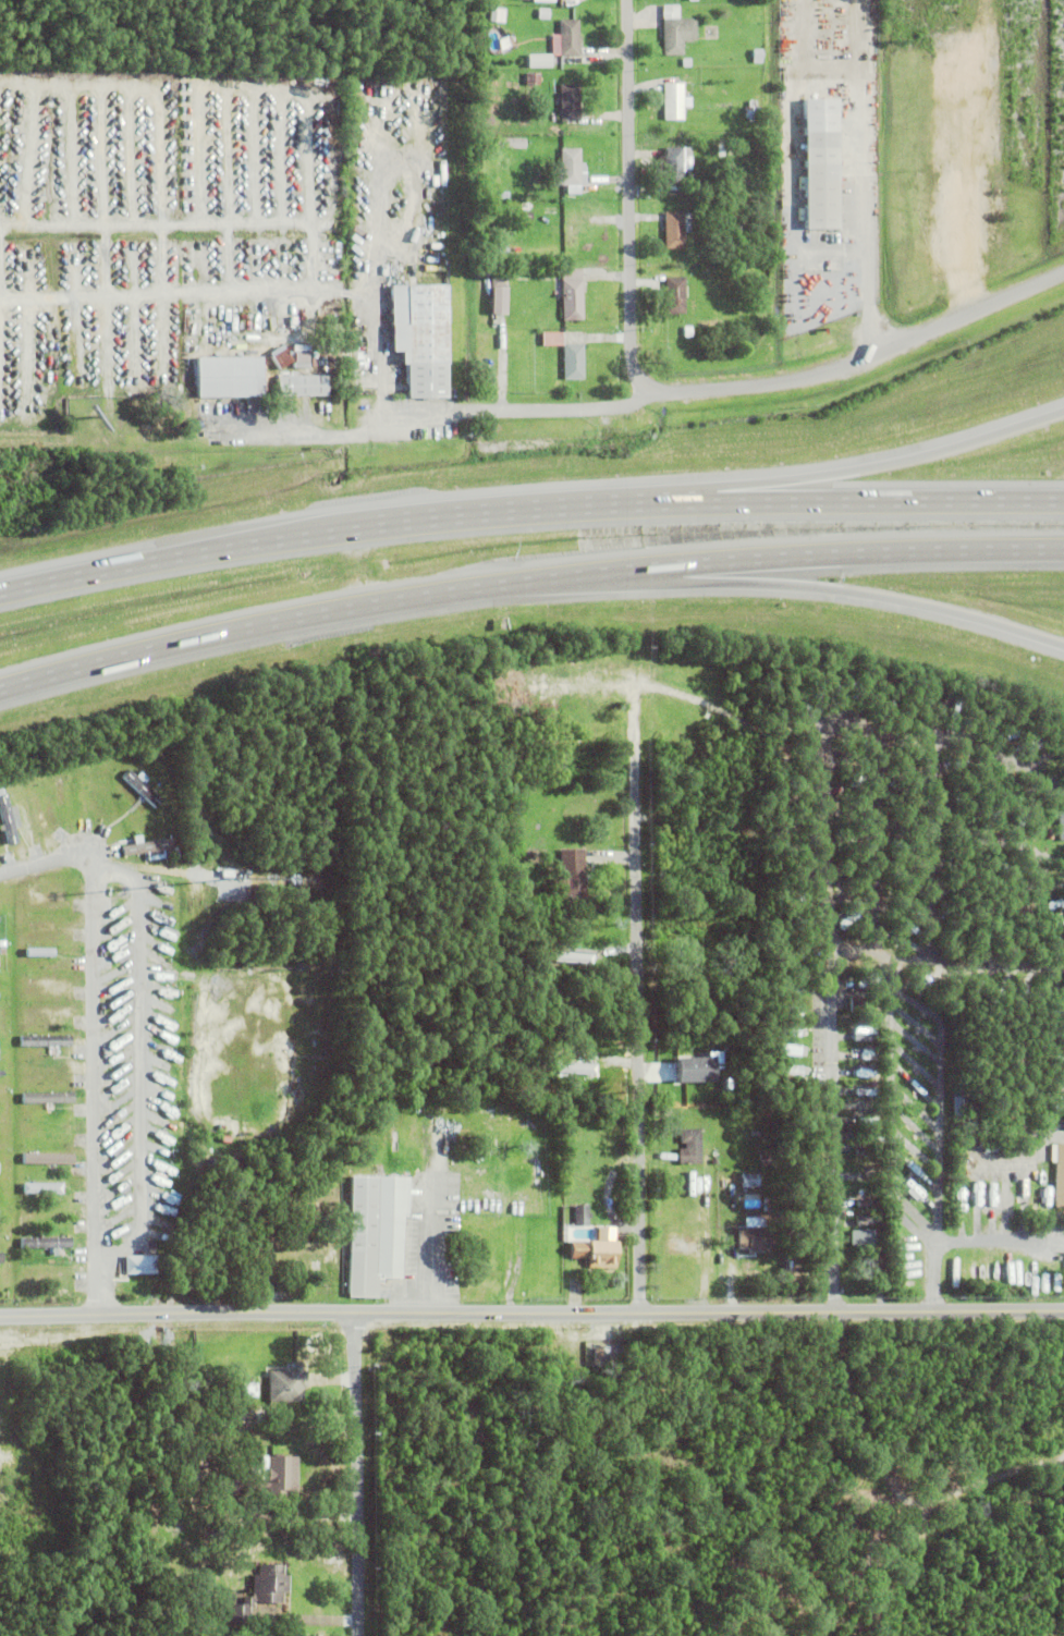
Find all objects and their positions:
building: (528, 0)
building: (693, 1)
building: (498, 15)
building: (677, 32)
building: (567, 40)
building: (758, 57)
building: (542, 60)
building: (687, 63)
building: (533, 80)
road: (833, 82)
building: (571, 102)
building: (674, 102)
building: (753, 111)
building: (488, 122)
building: (511, 144)
building: (724, 148)
building: (794, 159)
building: (674, 166)
building: (540, 170)
building: (571, 172)
building: (442, 174)
building: (821, 183)
building: (487, 194)
building: (503, 197)
building: (527, 207)
road: (86, 225)
building: (420, 228)
building: (676, 230)
building: (735, 234)
building: (500, 251)
building: (499, 280)
building: (573, 296)
building: (675, 296)
building: (502, 301)
building: (688, 333)
building: (421, 341)
building: (552, 341)
building: (304, 354)
building: (281, 359)
building: (574, 363)
building: (229, 380)
building: (302, 389)
road: (670, 390)
road: (430, 419)
road: (840, 471)
road: (528, 504)
road: (770, 583)
road: (526, 584)
building: (597, 663)
building: (607, 727)
building: (577, 738)
road: (938, 743)
building: (142, 784)
building: (87, 789)
building: (7, 817)
building: (1057, 822)
building: (580, 838)
building: (148, 845)
building: (176, 853)
building: (573, 875)
building: (47, 894)
road: (932, 907)
building: (0, 919)
building: (597, 935)
building: (712, 939)
building: (2, 942)
building: (795, 951)
building: (684, 952)
building: (570, 957)
building: (604, 959)
building: (794, 967)
building: (46, 979)
road: (638, 980)
building: (790, 988)
building: (860, 1003)
building: (788, 1010)
building: (0, 1014)
road: (107, 1028)
building: (790, 1028)
building: (864, 1033)
building: (46, 1038)
building: (592, 1048)
building: (791, 1048)
road: (151, 1058)
building: (574, 1069)
building: (685, 1069)
building: (793, 1070)
building: (587, 1077)
building: (731, 1082)
building: (695, 1092)
building: (608, 1094)
road: (827, 1095)
building: (48, 1096)
building: (957, 1102)
road: (930, 1125)
building: (968, 1130)
building: (405, 1131)
building: (689, 1145)
building: (993, 1147)
building: (867, 1150)
building: (538, 1155)
building: (663, 1156)
building: (45, 1159)
building: (769, 1159)
building: (133, 1168)
building: (1059, 1171)
building: (745, 1180)
building: (973, 1194)
building: (868, 1201)
building: (768, 1205)
building: (582, 1213)
building: (867, 1218)
building: (375, 1230)
building: (755, 1236)
building: (863, 1236)
building: (44, 1242)
building: (685, 1245)
road: (427, 1246)
building: (595, 1250)
building: (1055, 1263)
building: (133, 1265)
building: (49, 1271)
building: (1, 1283)
road: (531, 1311)
building: (598, 1353)
building: (286, 1382)
building: (248, 1388)
building: (229, 1414)
road: (357, 1474)
building: (279, 1477)
building: (236, 1481)
building: (260, 1590)
building: (178, 1626)

